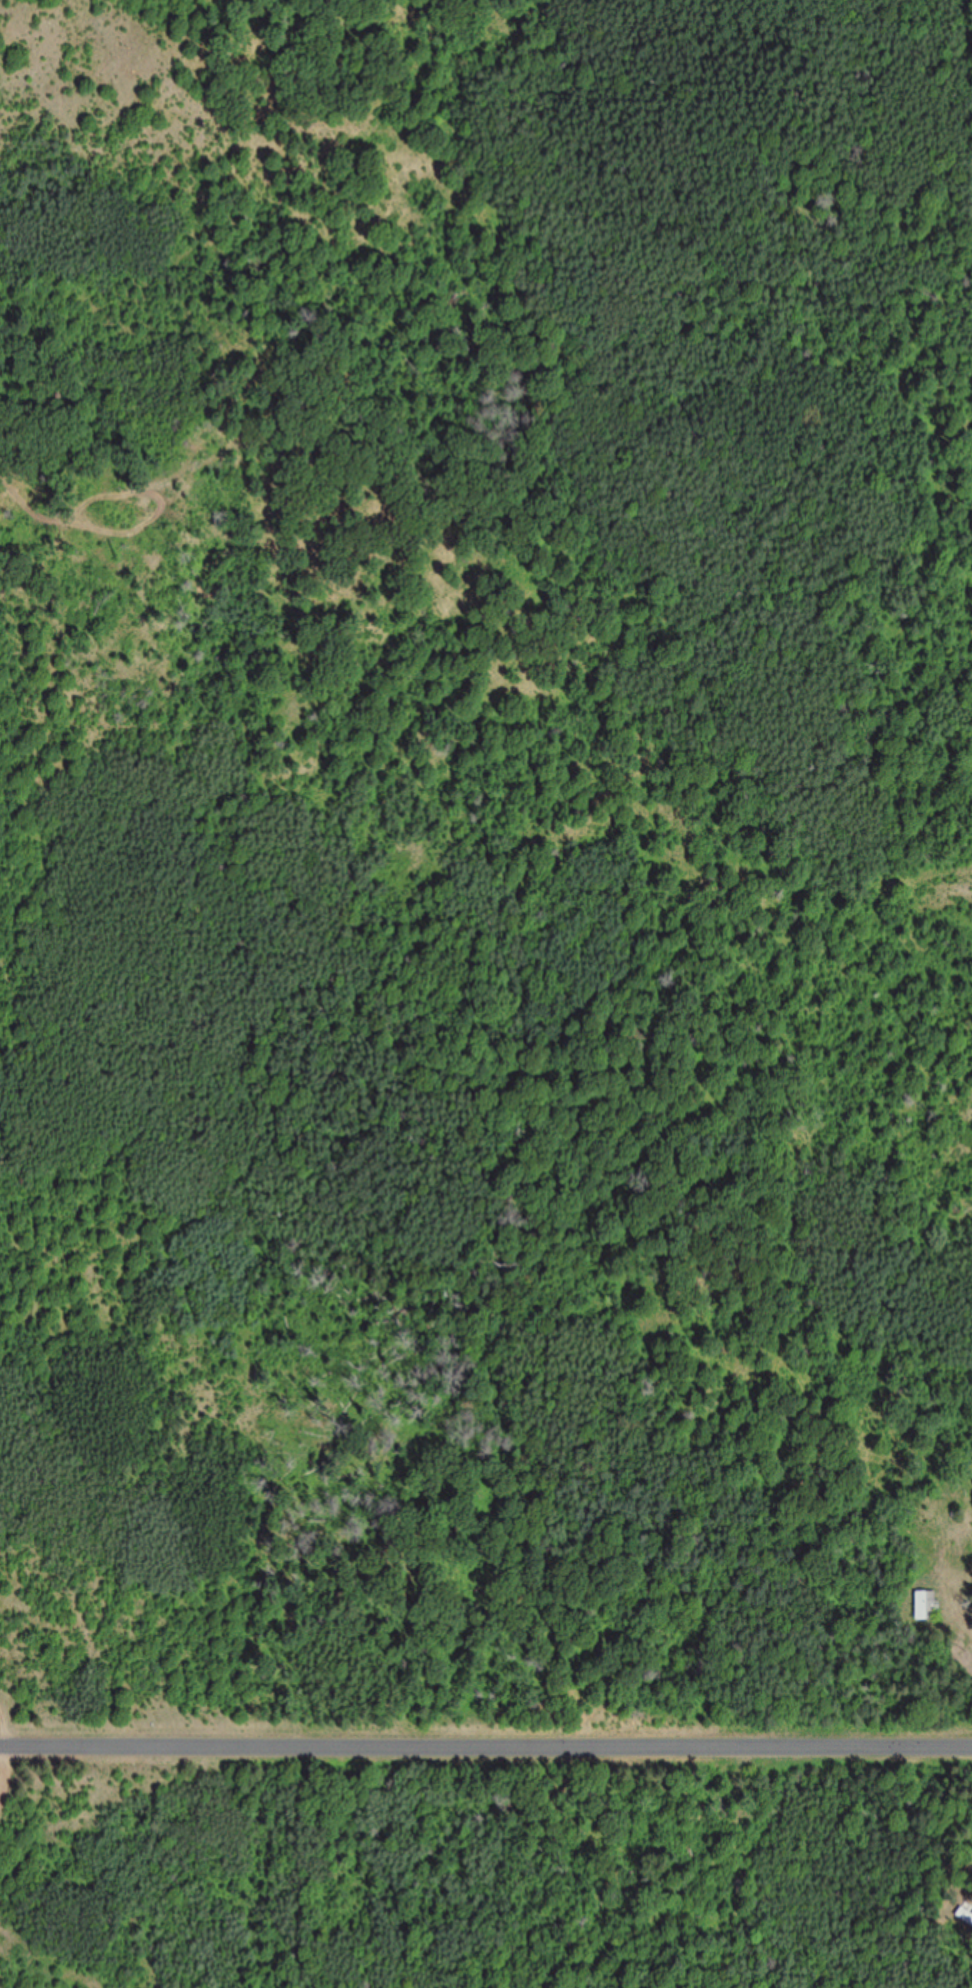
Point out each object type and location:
building: (927, 1606)
road: (486, 1728)
road: (1, 1754)
building: (966, 1915)

